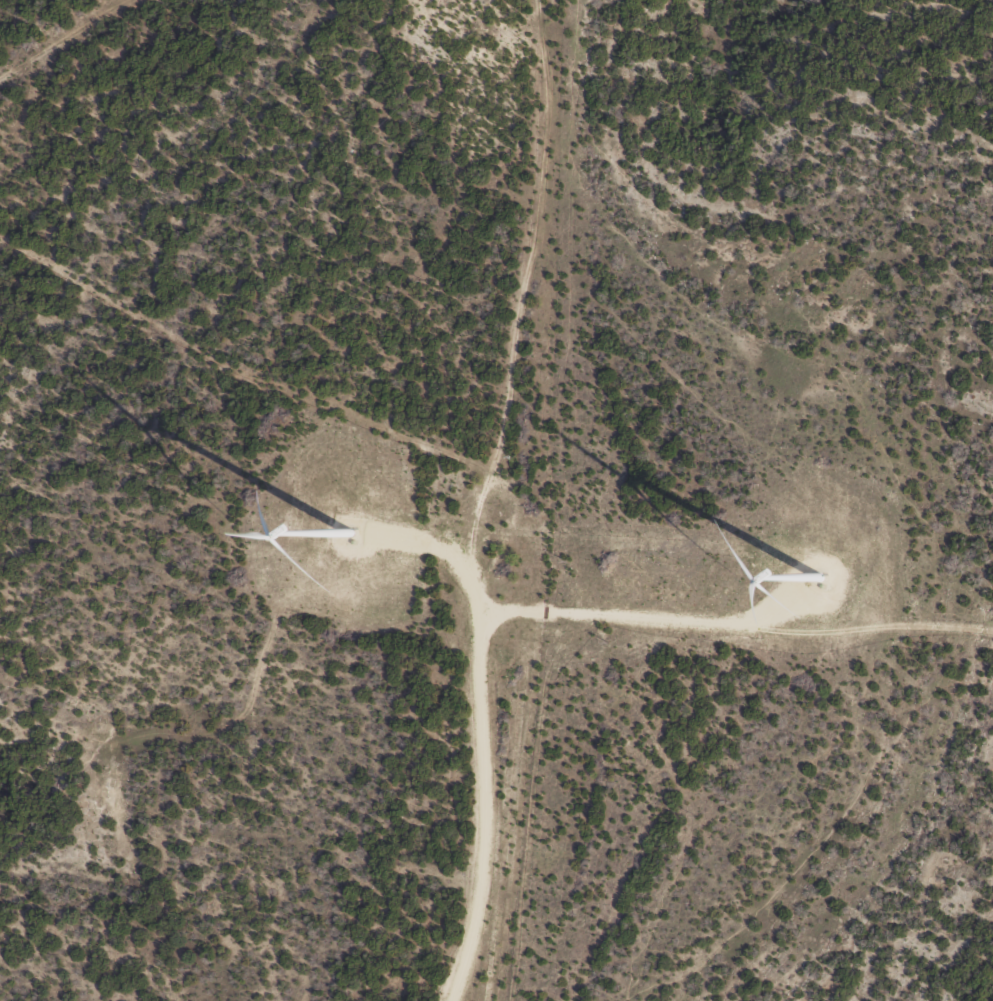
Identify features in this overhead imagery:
road: (510, 497)
wind turbine: (360, 538)
wind turbine: (824, 575)

